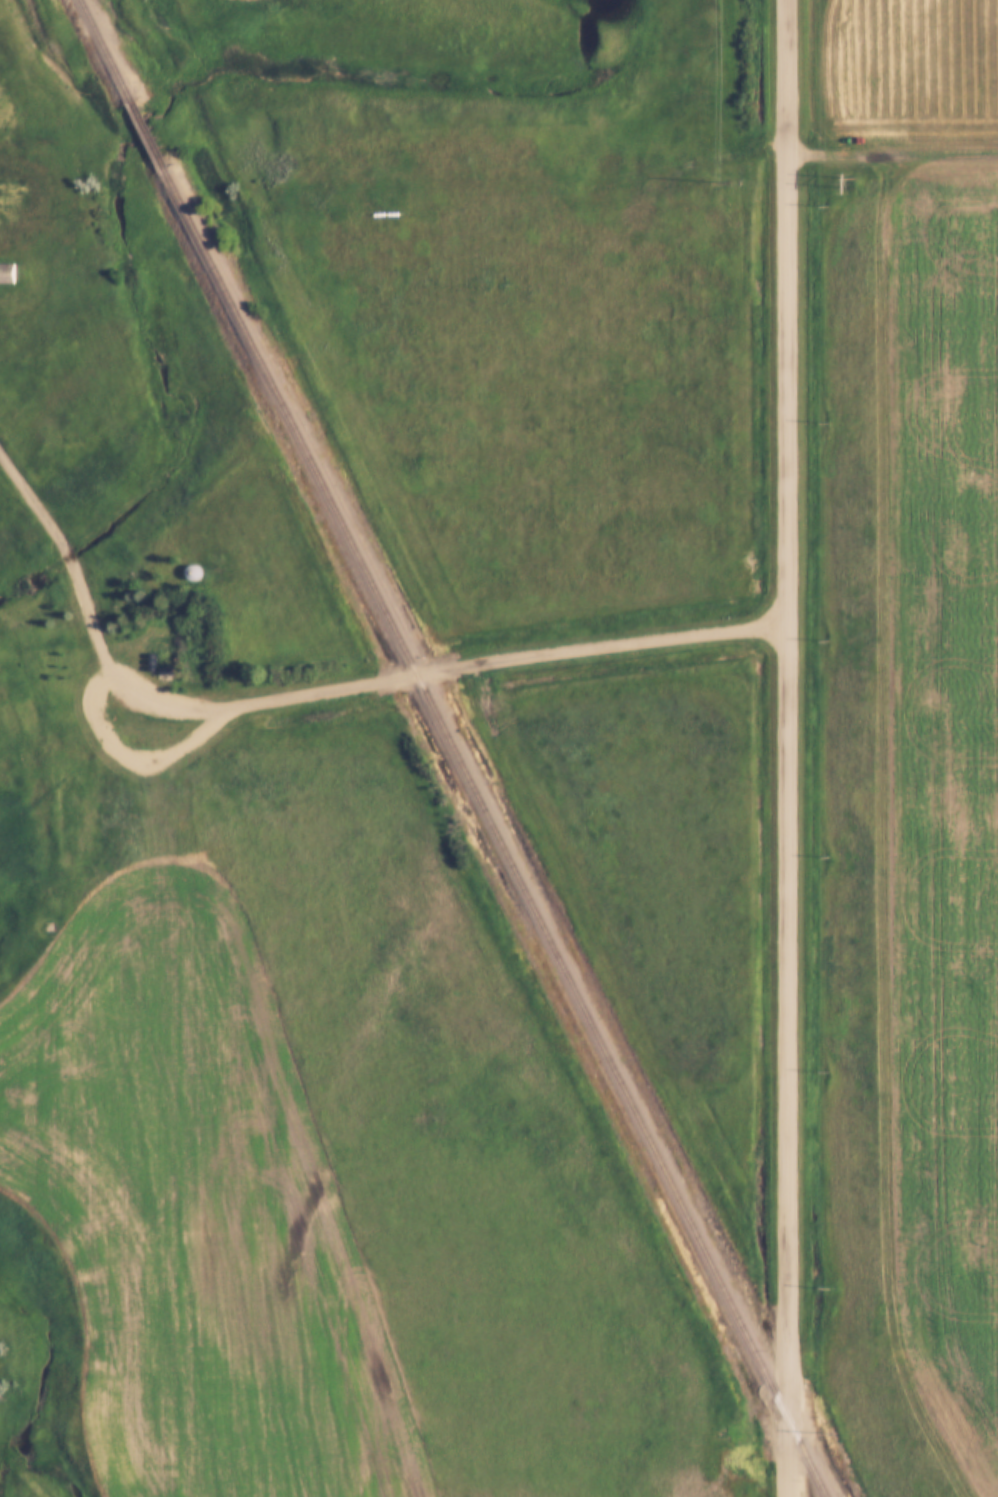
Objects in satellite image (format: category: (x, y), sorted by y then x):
railway: (106, 49)
railway: (148, 132)
road: (893, 149)
building: (7, 272)
road: (64, 543)
building: (195, 572)
building: (160, 645)
road: (434, 668)
road: (788, 748)
railway: (493, 832)

